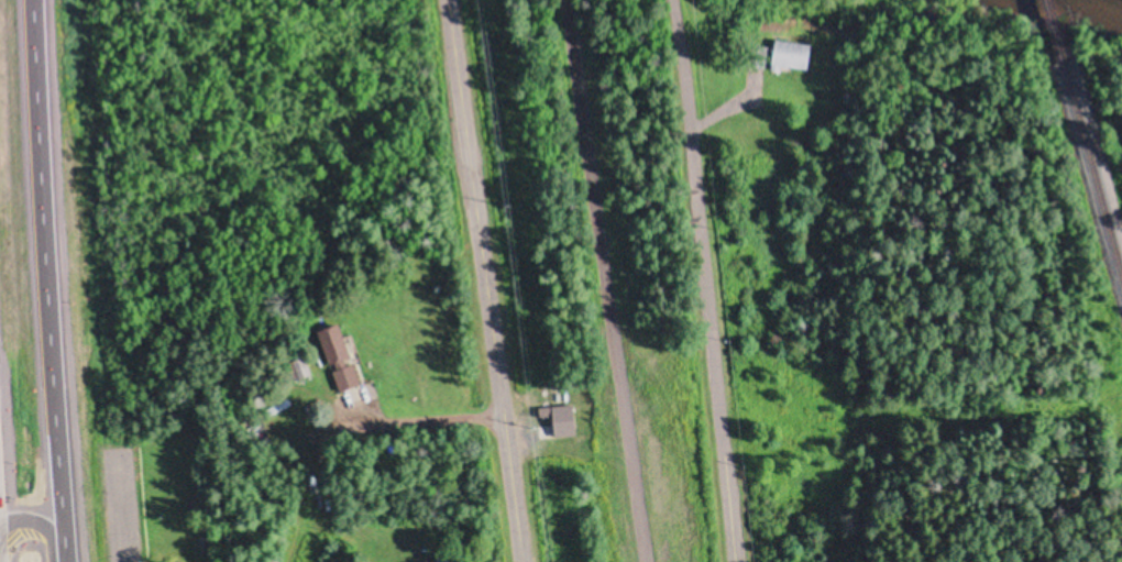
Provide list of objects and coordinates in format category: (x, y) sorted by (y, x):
river: (1043, 5)
railway: (1057, 31)
building: (792, 54)
railway: (1094, 163)
road: (44, 280)
road: (482, 280)
road: (604, 280)
park: (591, 288)
road: (710, 311)
building: (340, 355)
road: (427, 419)
building: (562, 420)
road: (118, 504)
building: (447, 560)

